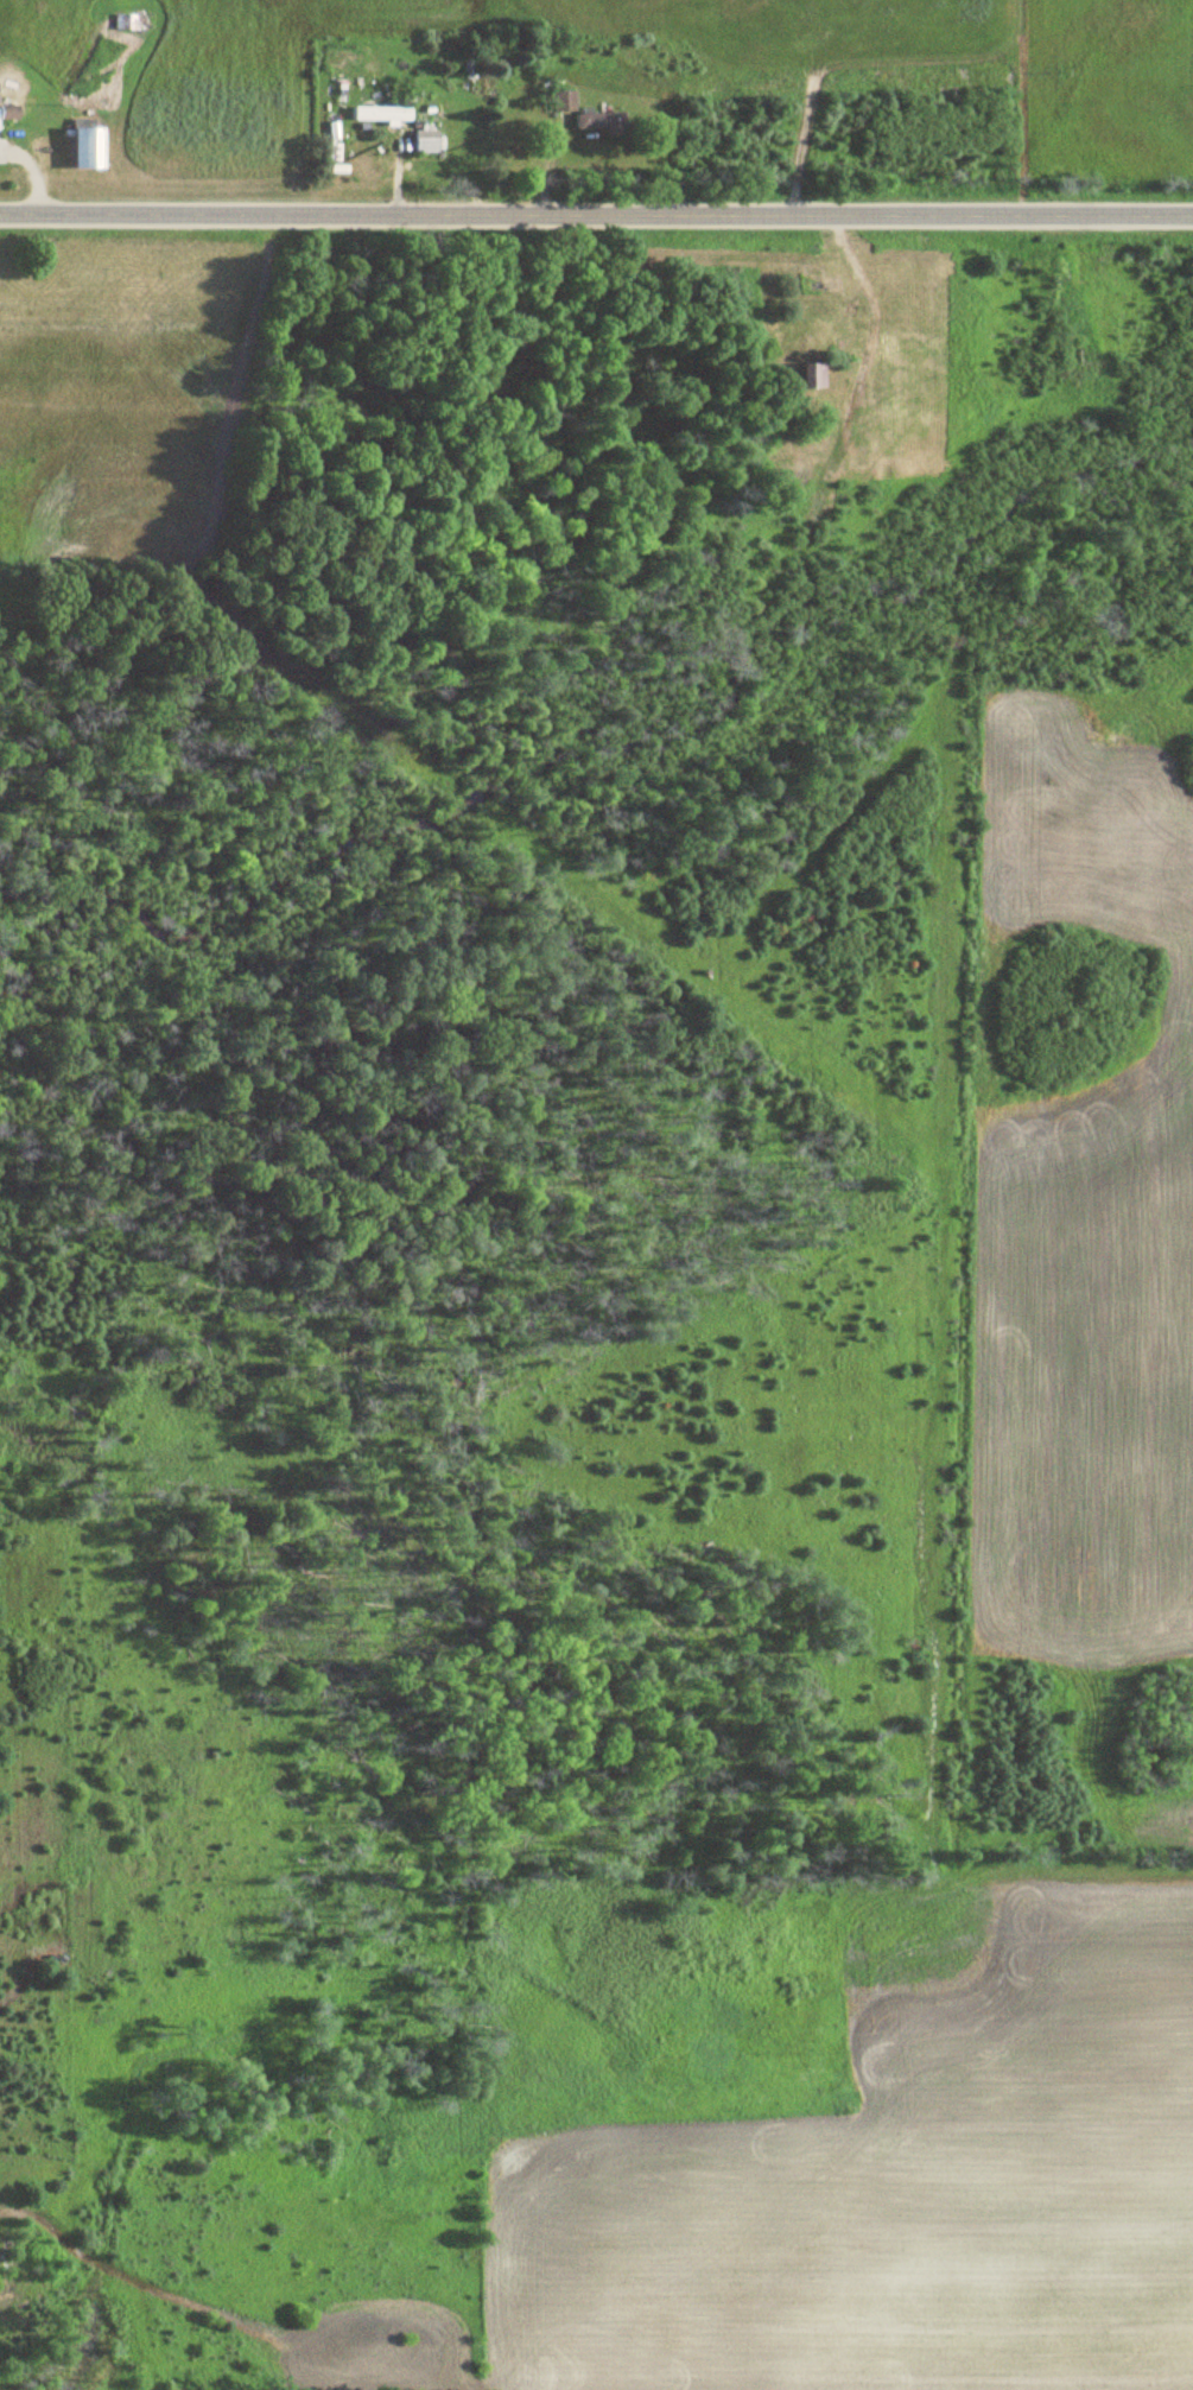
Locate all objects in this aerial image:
building: (126, 23)
building: (559, 101)
building: (595, 123)
building: (452, 129)
building: (419, 142)
building: (80, 148)
road: (596, 213)
road: (859, 289)
building: (808, 375)

